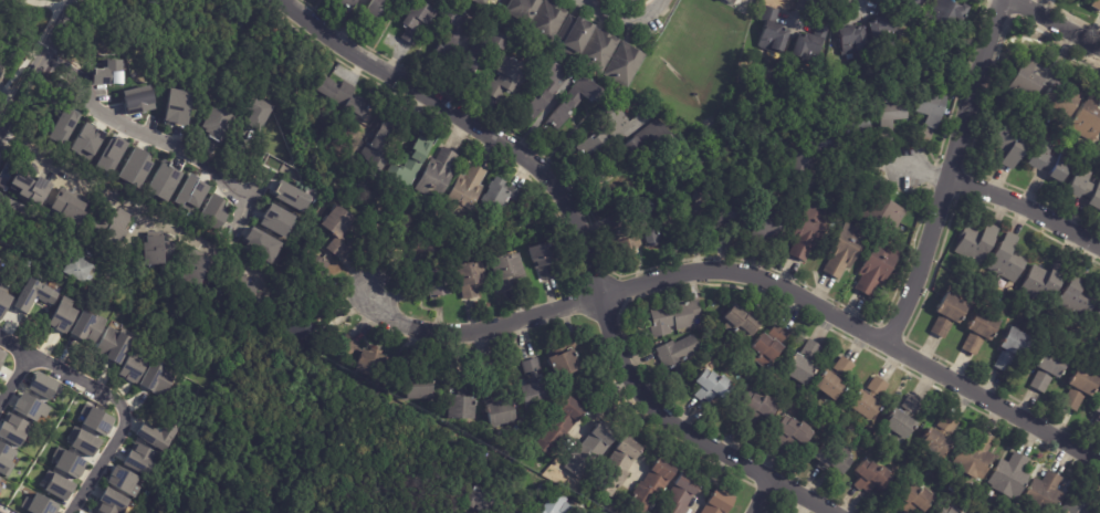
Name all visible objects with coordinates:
road: (1, 0)
road: (585, 0)
building: (624, 0)
building: (636, 0)
building: (725, 1)
building: (482, 2)
building: (912, 3)
road: (49, 4)
building: (355, 4)
building: (1096, 4)
road: (745, 6)
building: (376, 11)
road: (65, 12)
building: (539, 13)
building: (945, 14)
road: (621, 15)
road: (997, 15)
building: (418, 21)
road: (1056, 23)
building: (881, 29)
building: (772, 31)
building: (451, 36)
building: (849, 38)
road: (50, 42)
building: (590, 43)
building: (810, 43)
building: (484, 49)
road: (985, 56)
building: (627, 64)
park: (8, 72)
building: (109, 72)
building: (512, 77)
building: (1024, 81)
building: (549, 88)
road: (20, 95)
road: (425, 95)
building: (345, 96)
building: (138, 100)
building: (575, 103)
building: (930, 104)
building: (1058, 104)
building: (177, 106)
building: (887, 111)
building: (258, 114)
building: (1086, 119)
building: (852, 122)
building: (217, 123)
building: (62, 125)
building: (85, 140)
road: (160, 140)
building: (625, 140)
building: (1010, 144)
building: (386, 146)
building: (109, 154)
building: (416, 161)
building: (1048, 161)
building: (794, 166)
building: (135, 167)
road: (926, 171)
building: (438, 176)
building: (163, 181)
road: (258, 184)
building: (1083, 188)
building: (31, 189)
building: (467, 191)
road: (106, 192)
building: (189, 193)
building: (291, 196)
building: (501, 196)
building: (67, 207)
road: (1026, 207)
building: (212, 212)
road: (574, 212)
building: (726, 213)
building: (880, 213)
road: (936, 213)
building: (696, 214)
building: (276, 219)
building: (758, 222)
building: (111, 224)
building: (650, 228)
building: (518, 229)
building: (341, 230)
building: (805, 233)
building: (625, 234)
building: (975, 242)
building: (261, 244)
building: (156, 250)
building: (842, 251)
building: (536, 259)
building: (1006, 259)
building: (0, 262)
building: (81, 269)
building: (316, 269)
building: (874, 269)
building: (195, 270)
building: (503, 270)
road: (748, 273)
building: (460, 281)
building: (1044, 281)
building: (430, 284)
building: (247, 289)
building: (32, 294)
building: (1077, 294)
building: (3, 301)
building: (63, 315)
building: (945, 316)
building: (669, 320)
building: (1097, 320)
building: (737, 323)
building: (85, 326)
building: (295, 328)
building: (327, 328)
building: (977, 333)
road: (15, 345)
building: (114, 345)
building: (764, 347)
building: (1010, 349)
building: (674, 353)
building: (2, 356)
building: (565, 357)
building: (362, 359)
building: (800, 365)
building: (132, 367)
building: (402, 367)
building: (1046, 369)
building: (531, 370)
building: (454, 374)
road: (15, 377)
building: (154, 379)
building: (831, 379)
building: (491, 385)
building: (43, 386)
building: (708, 386)
building: (413, 389)
building: (1079, 389)
building: (532, 396)
building: (868, 400)
building: (29, 407)
building: (459, 409)
building: (752, 409)
road: (661, 410)
building: (1098, 413)
road: (124, 415)
building: (497, 415)
building: (95, 419)
building: (901, 420)
building: (13, 429)
building: (558, 429)
building: (790, 431)
building: (156, 435)
building: (934, 438)
building: (83, 441)
building: (587, 452)
building: (830, 457)
building: (6, 459)
building: (140, 459)
building: (974, 459)
building: (67, 462)
building: (615, 469)
building: (916, 475)
building: (870, 477)
building: (1008, 479)
building: (123, 481)
building: (56, 484)
building: (0, 489)
building: (649, 489)
building: (541, 490)
building: (1041, 495)
building: (677, 496)
road: (762, 496)
building: (471, 499)
building: (911, 499)
building: (716, 501)
building: (111, 502)
building: (38, 504)
building: (555, 504)
building: (1072, 507)
building: (506, 510)
building: (944, 511)
building: (464, 512)
building: (492, 512)
building: (958, 512)

